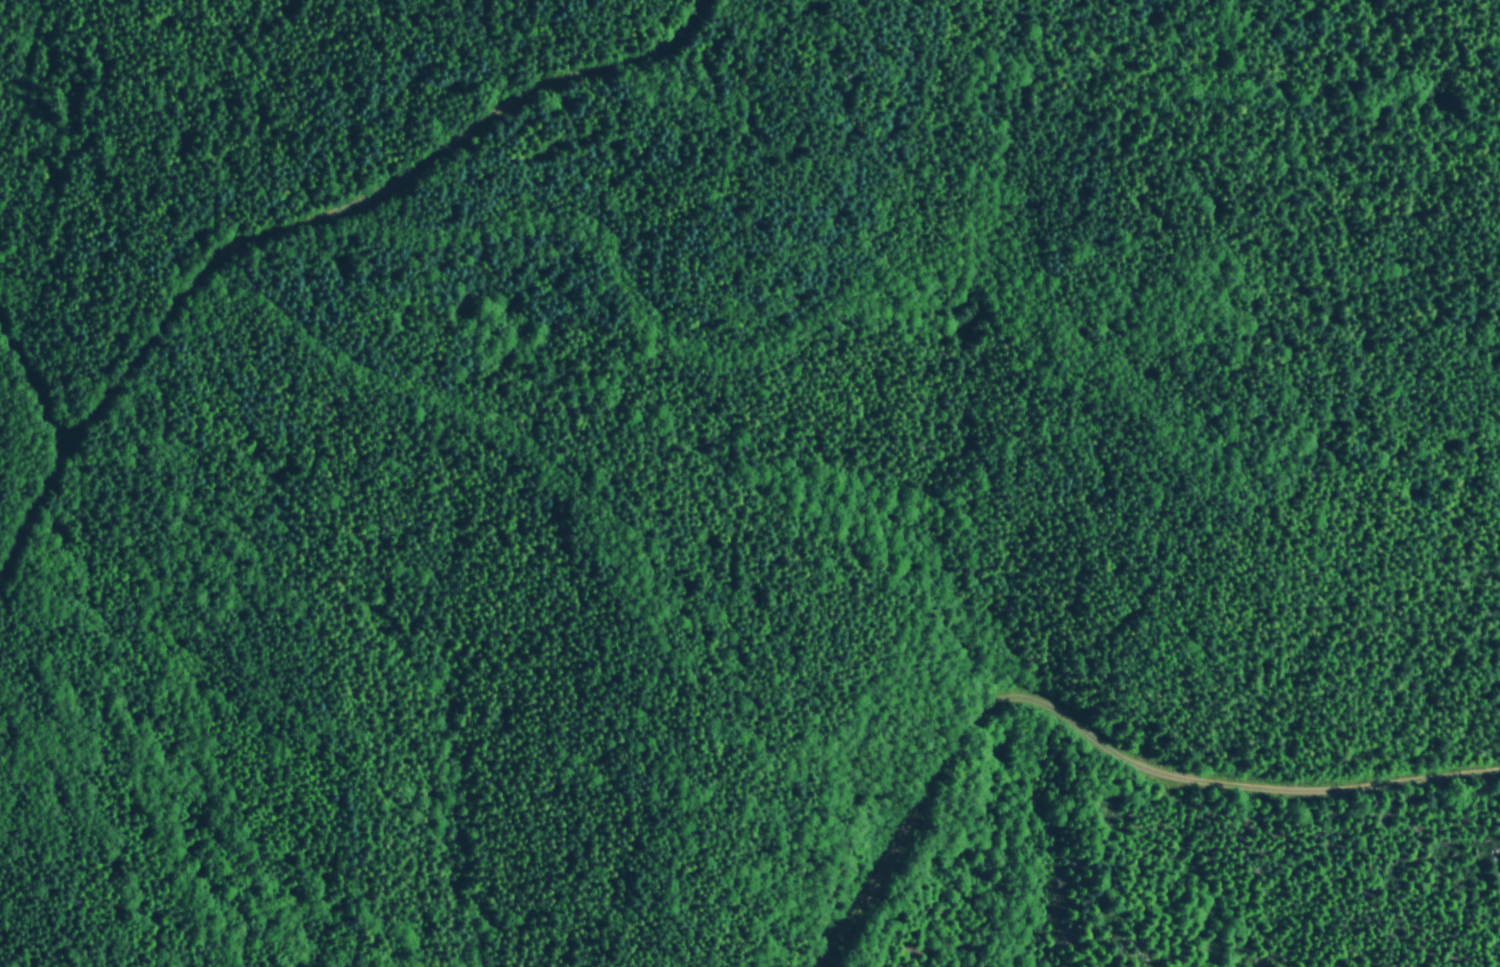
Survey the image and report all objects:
road: (296, 224)
road: (1084, 729)

